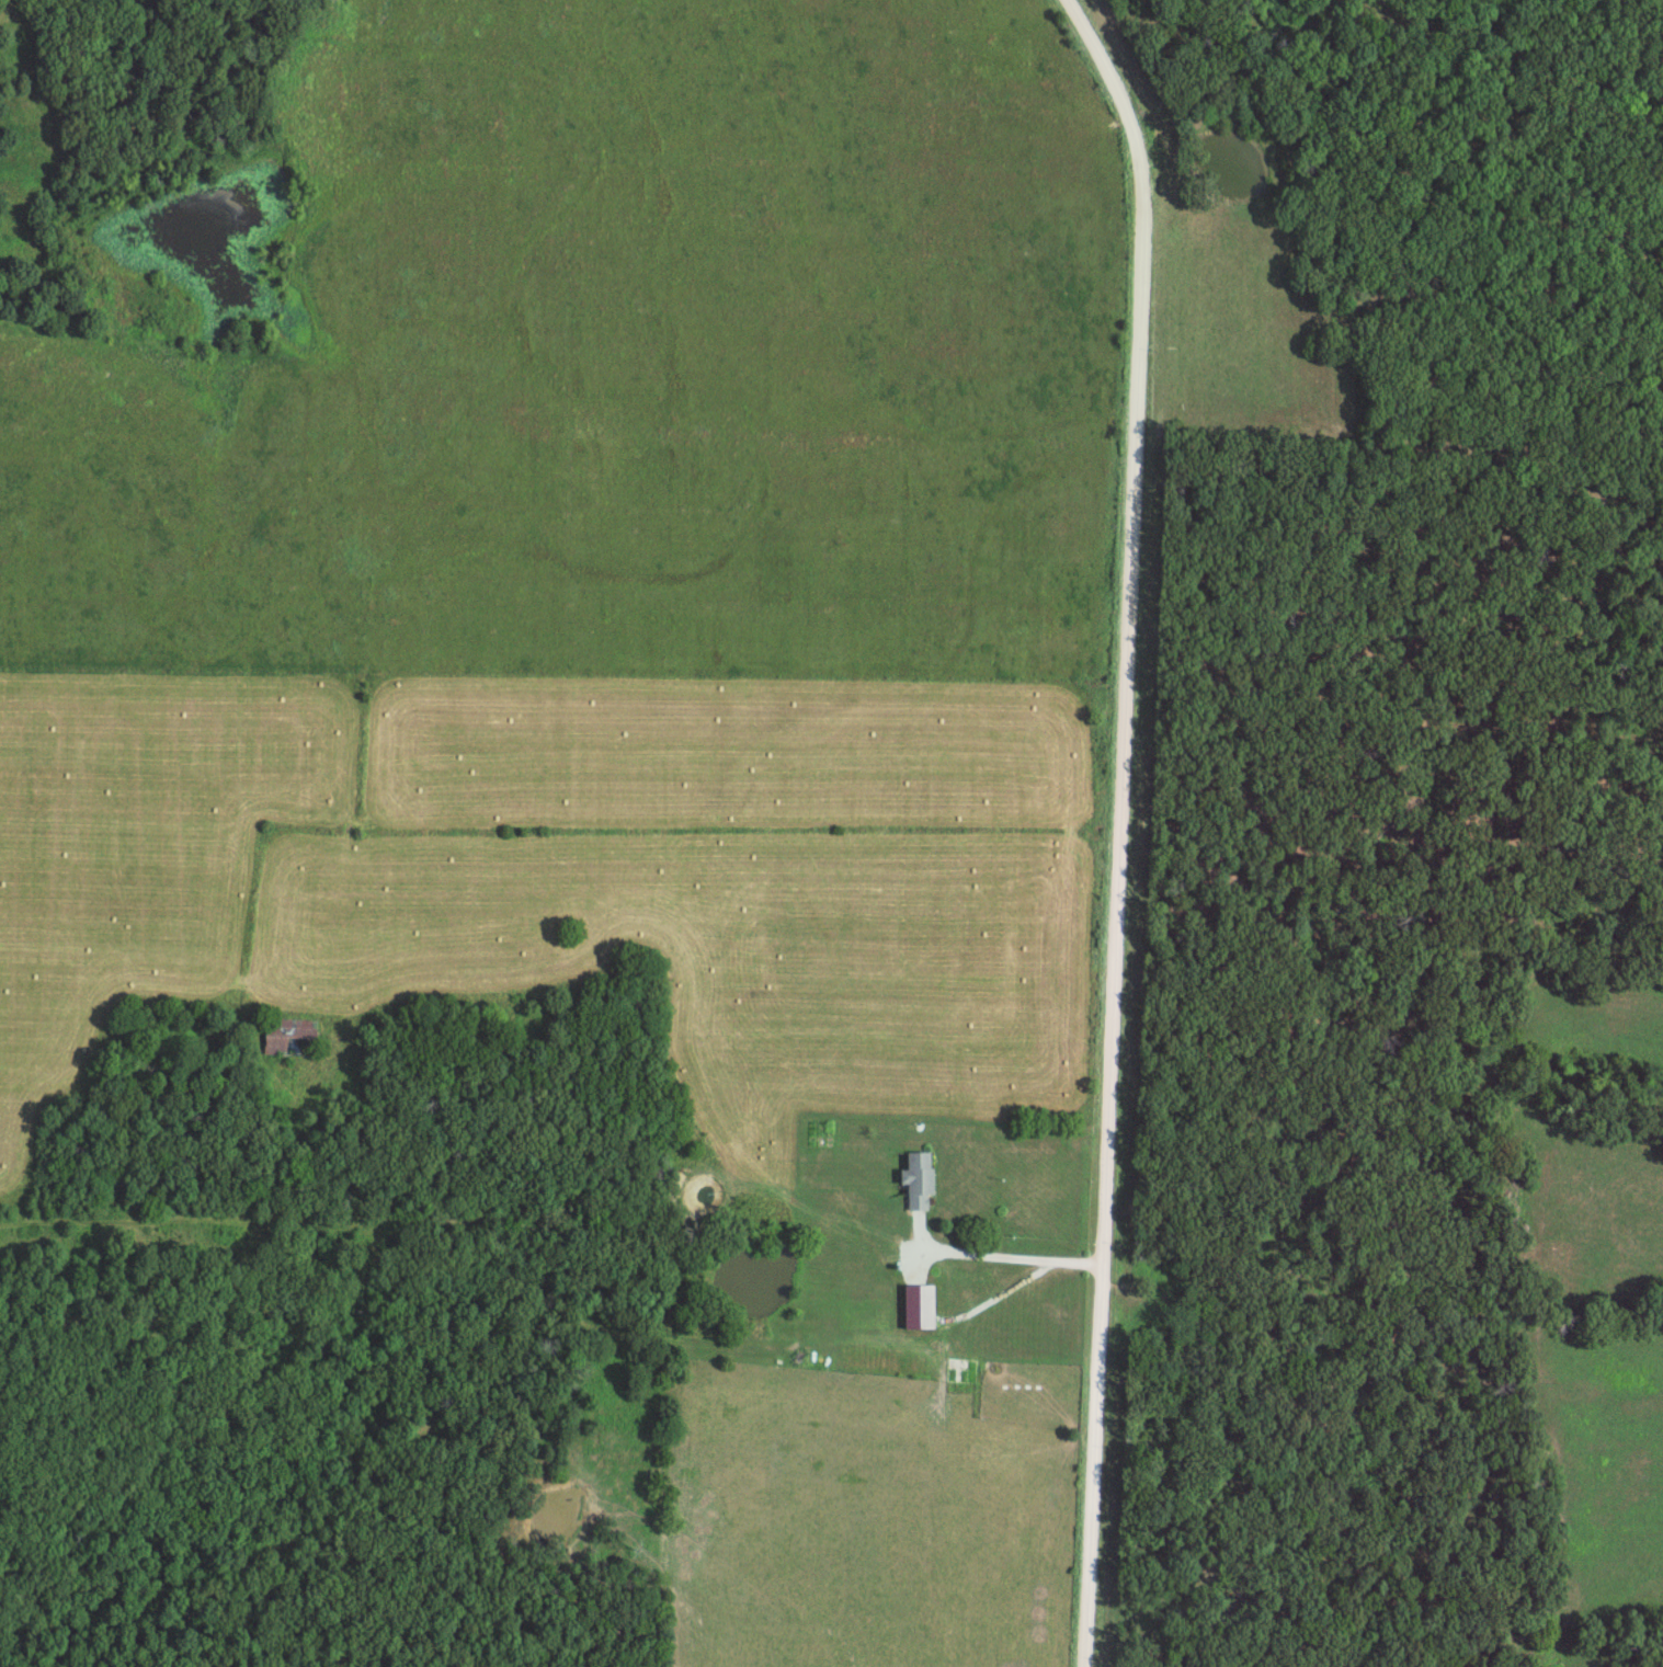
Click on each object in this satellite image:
road: (1128, 825)
building: (291, 1032)
building: (922, 1179)
building: (965, 1370)

